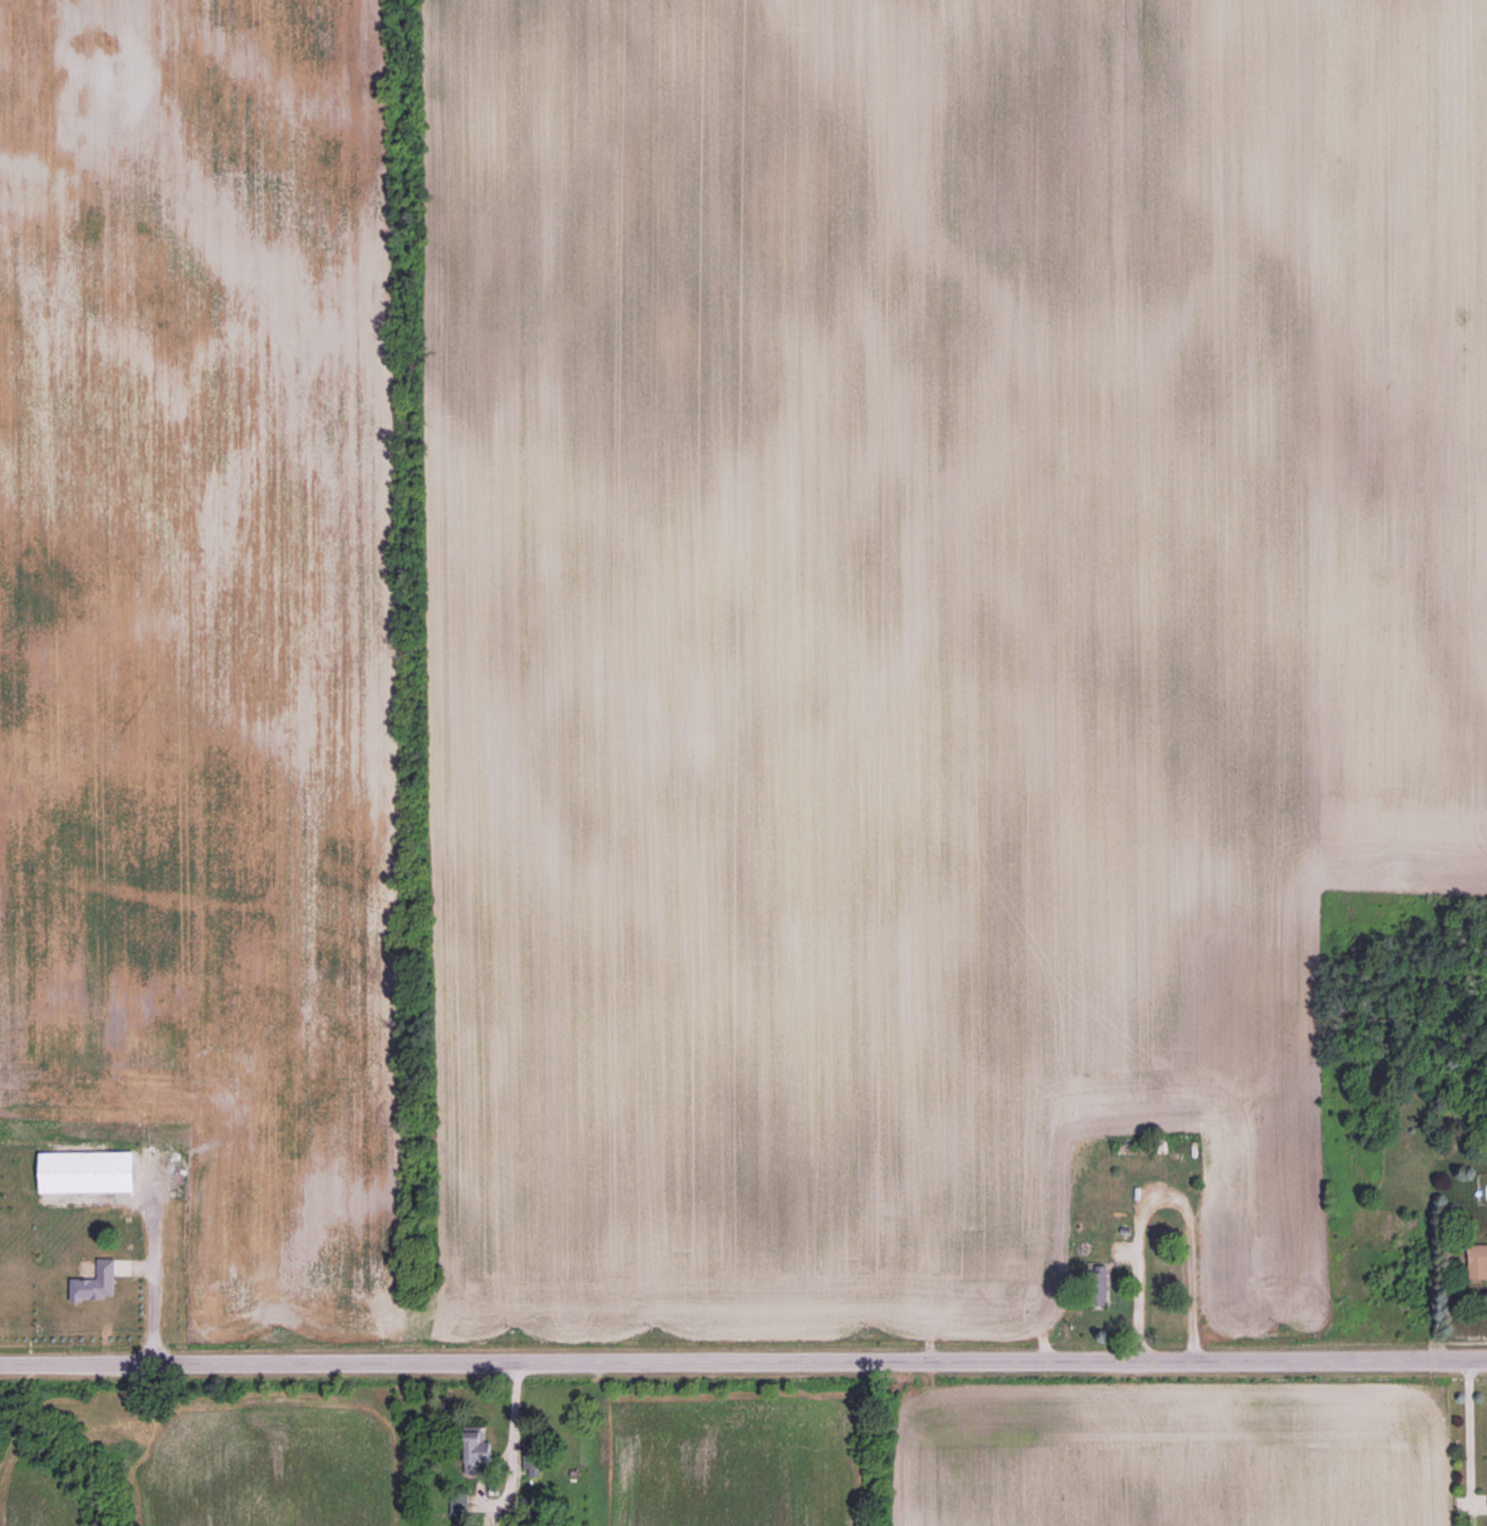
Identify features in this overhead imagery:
building: (86, 1171)
building: (1477, 1261)
road: (155, 1270)
building: (1098, 1281)
building: (95, 1282)
road: (743, 1361)
building: (474, 1452)

